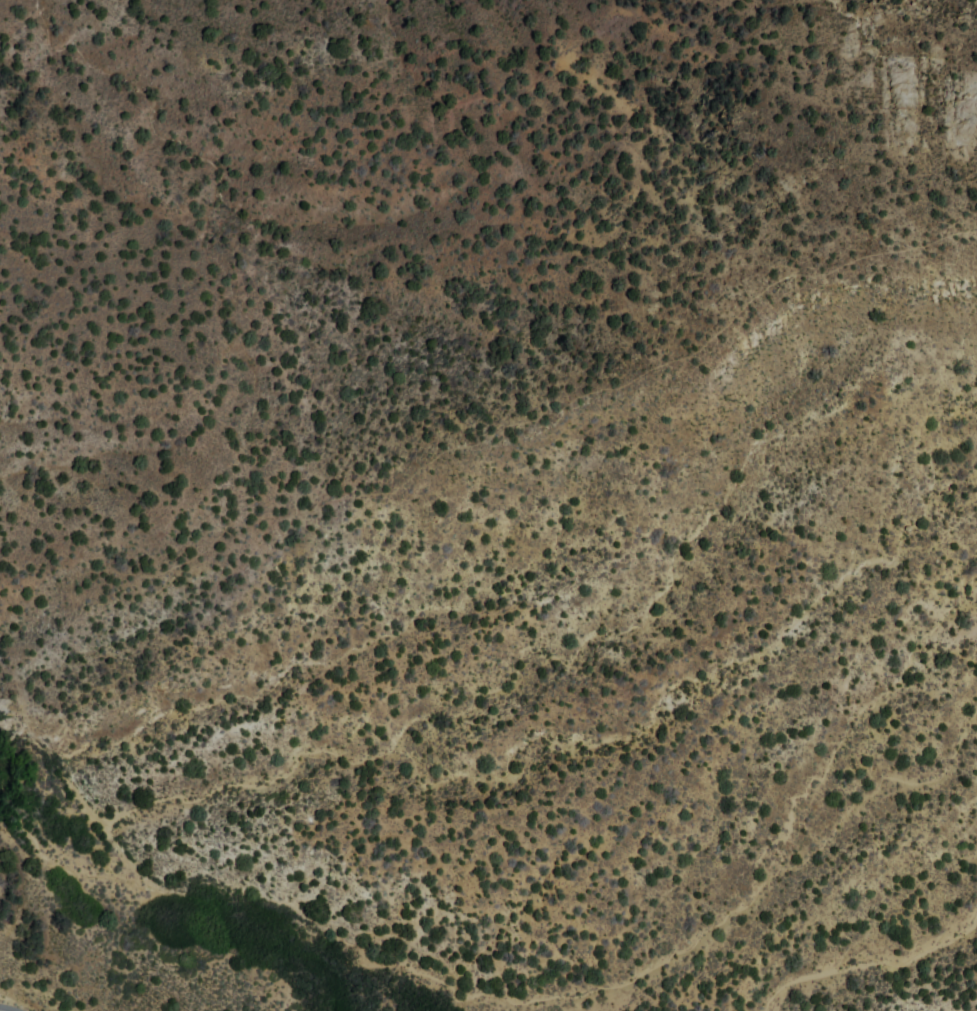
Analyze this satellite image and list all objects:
road: (8, 1003)

